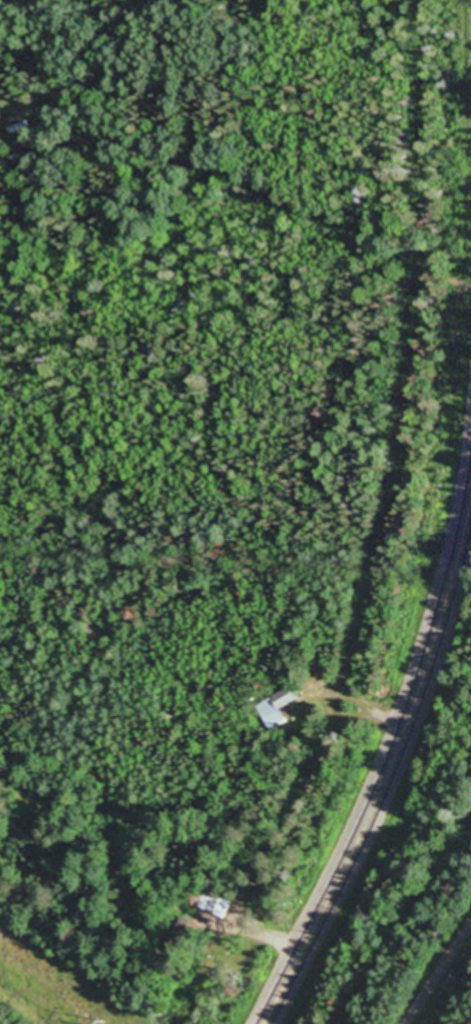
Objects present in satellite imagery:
building: (279, 707)
road: (391, 773)
building: (215, 904)
road: (440, 975)
power tower: (101, 1023)

